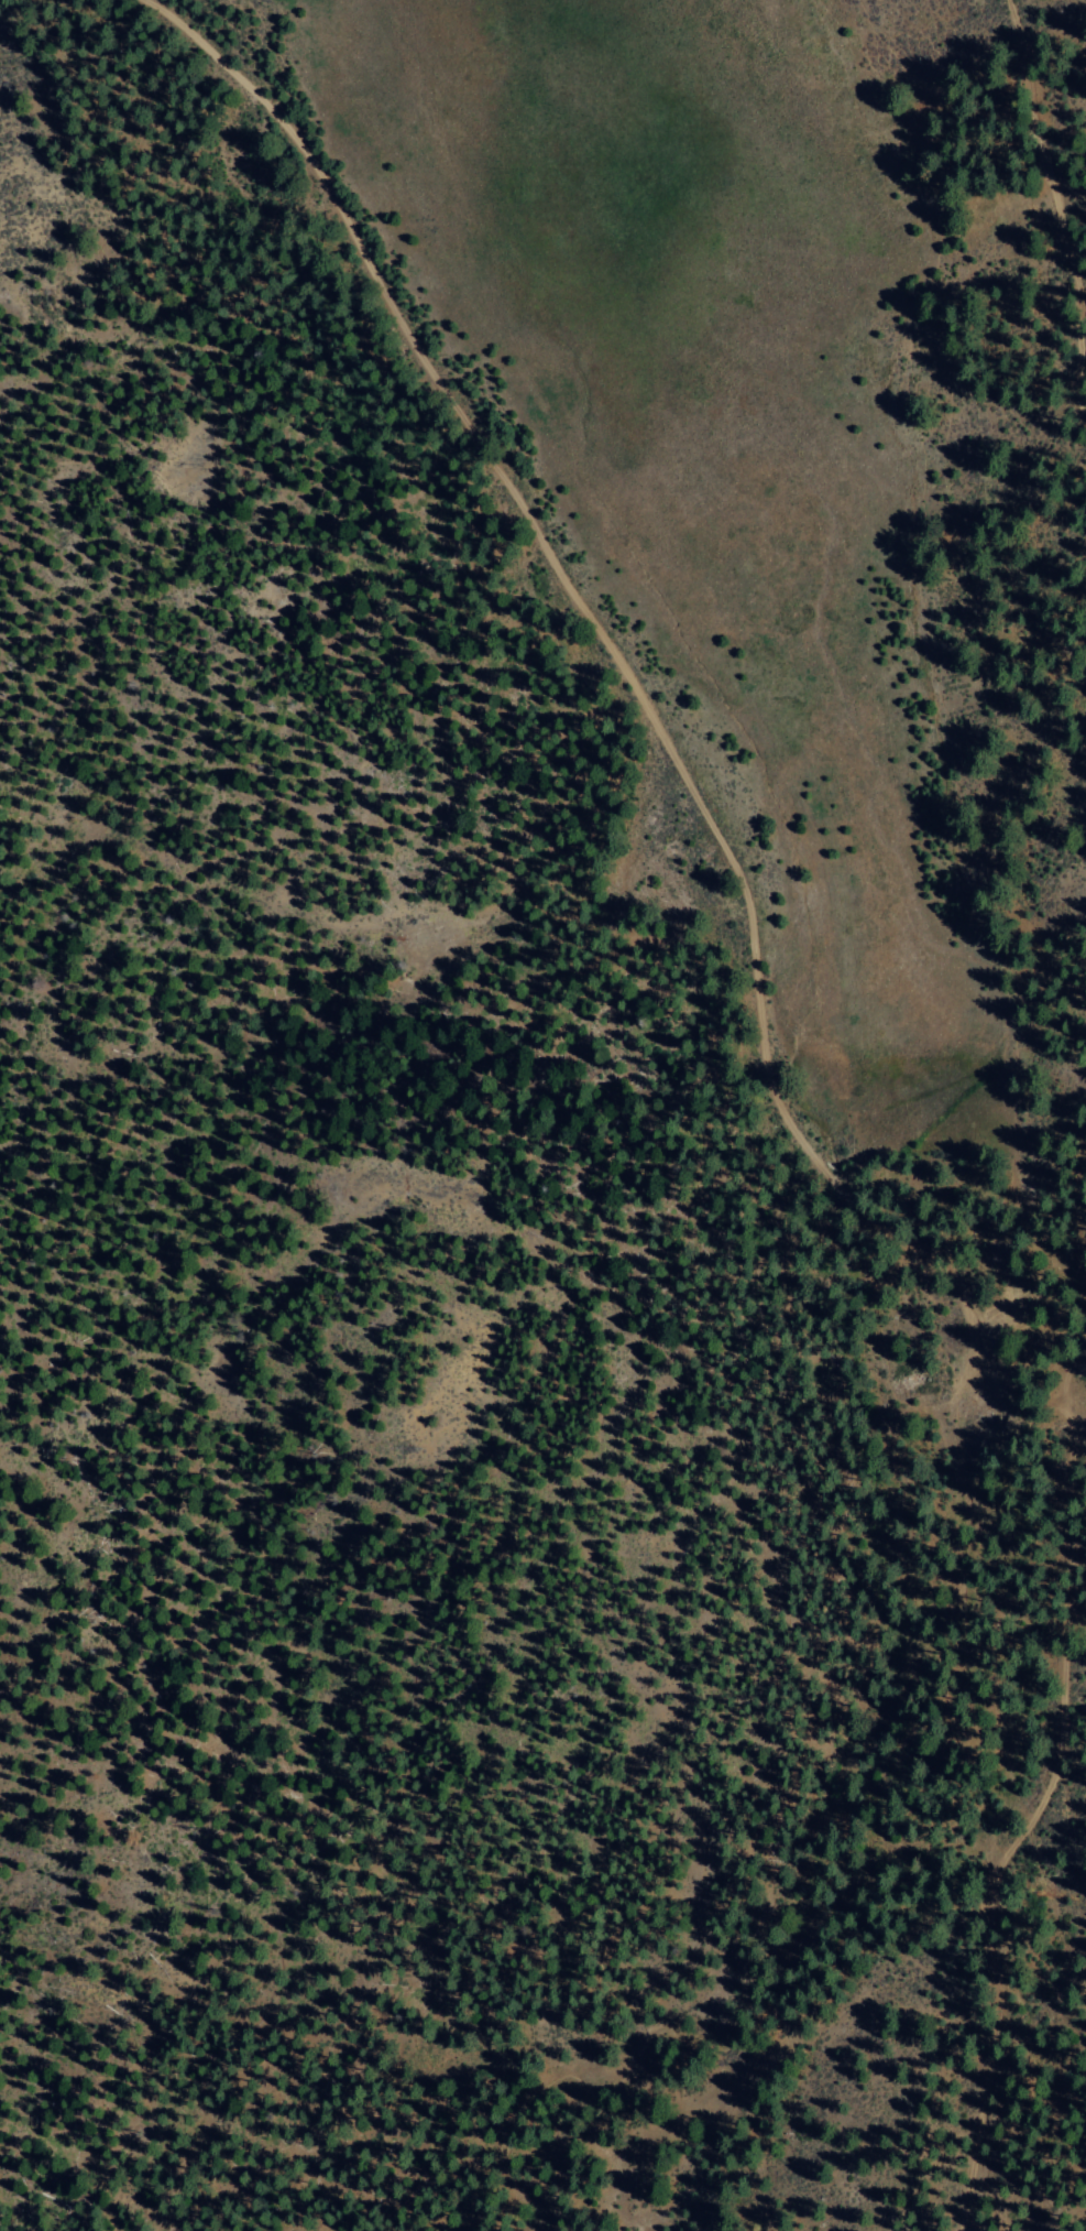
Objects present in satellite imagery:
road: (1056, 133)
road: (641, 661)
road: (998, 1836)

